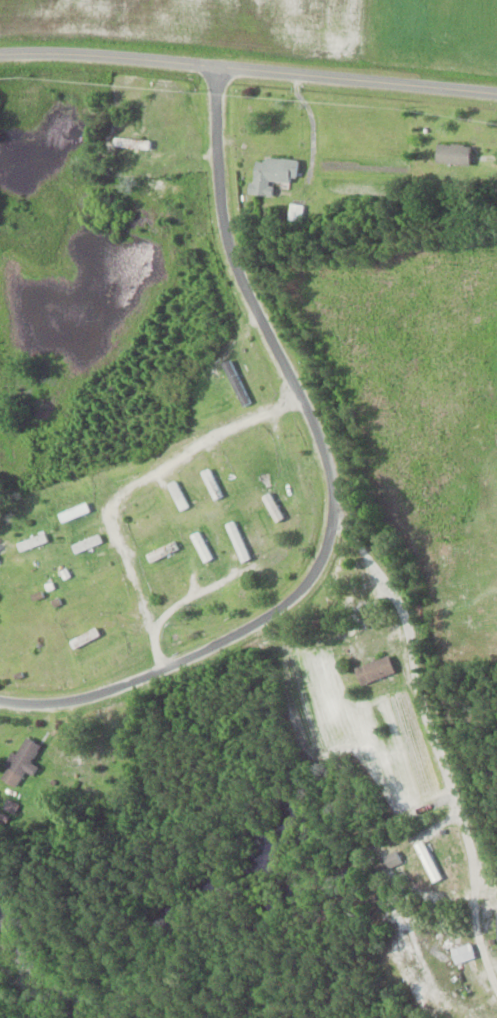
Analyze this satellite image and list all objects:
road: (249, 65)
building: (129, 142)
building: (453, 154)
building: (273, 174)
building: (296, 212)
building: (212, 484)
road: (335, 485)
building: (179, 495)
building: (273, 507)
building: (75, 512)
building: (148, 522)
building: (238, 541)
building: (33, 542)
building: (88, 544)
building: (202, 547)
building: (162, 552)
building: (99, 575)
building: (85, 638)
building: (375, 670)
road: (431, 737)
building: (21, 762)
building: (429, 861)
building: (463, 953)

